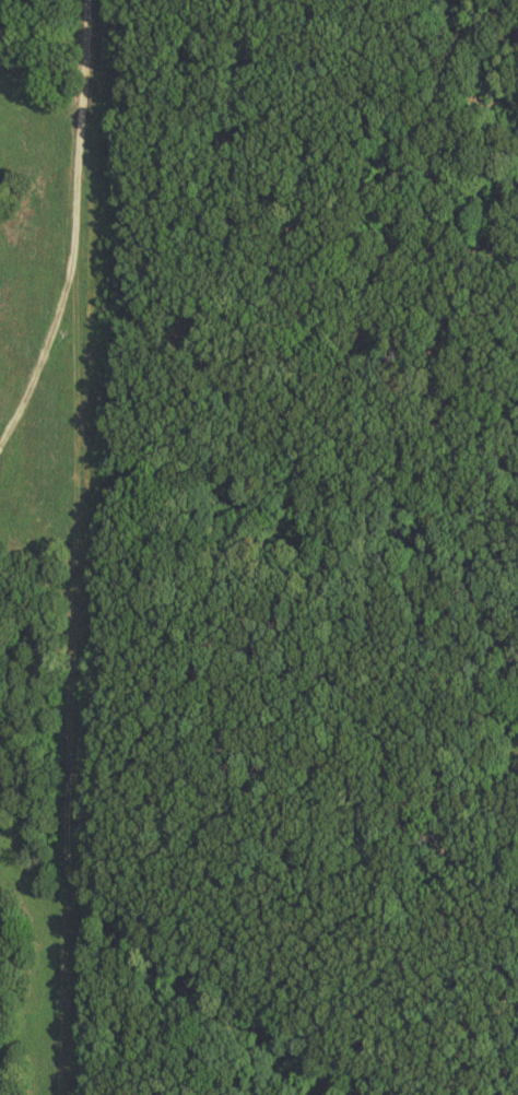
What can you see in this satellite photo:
road: (78, 228)

